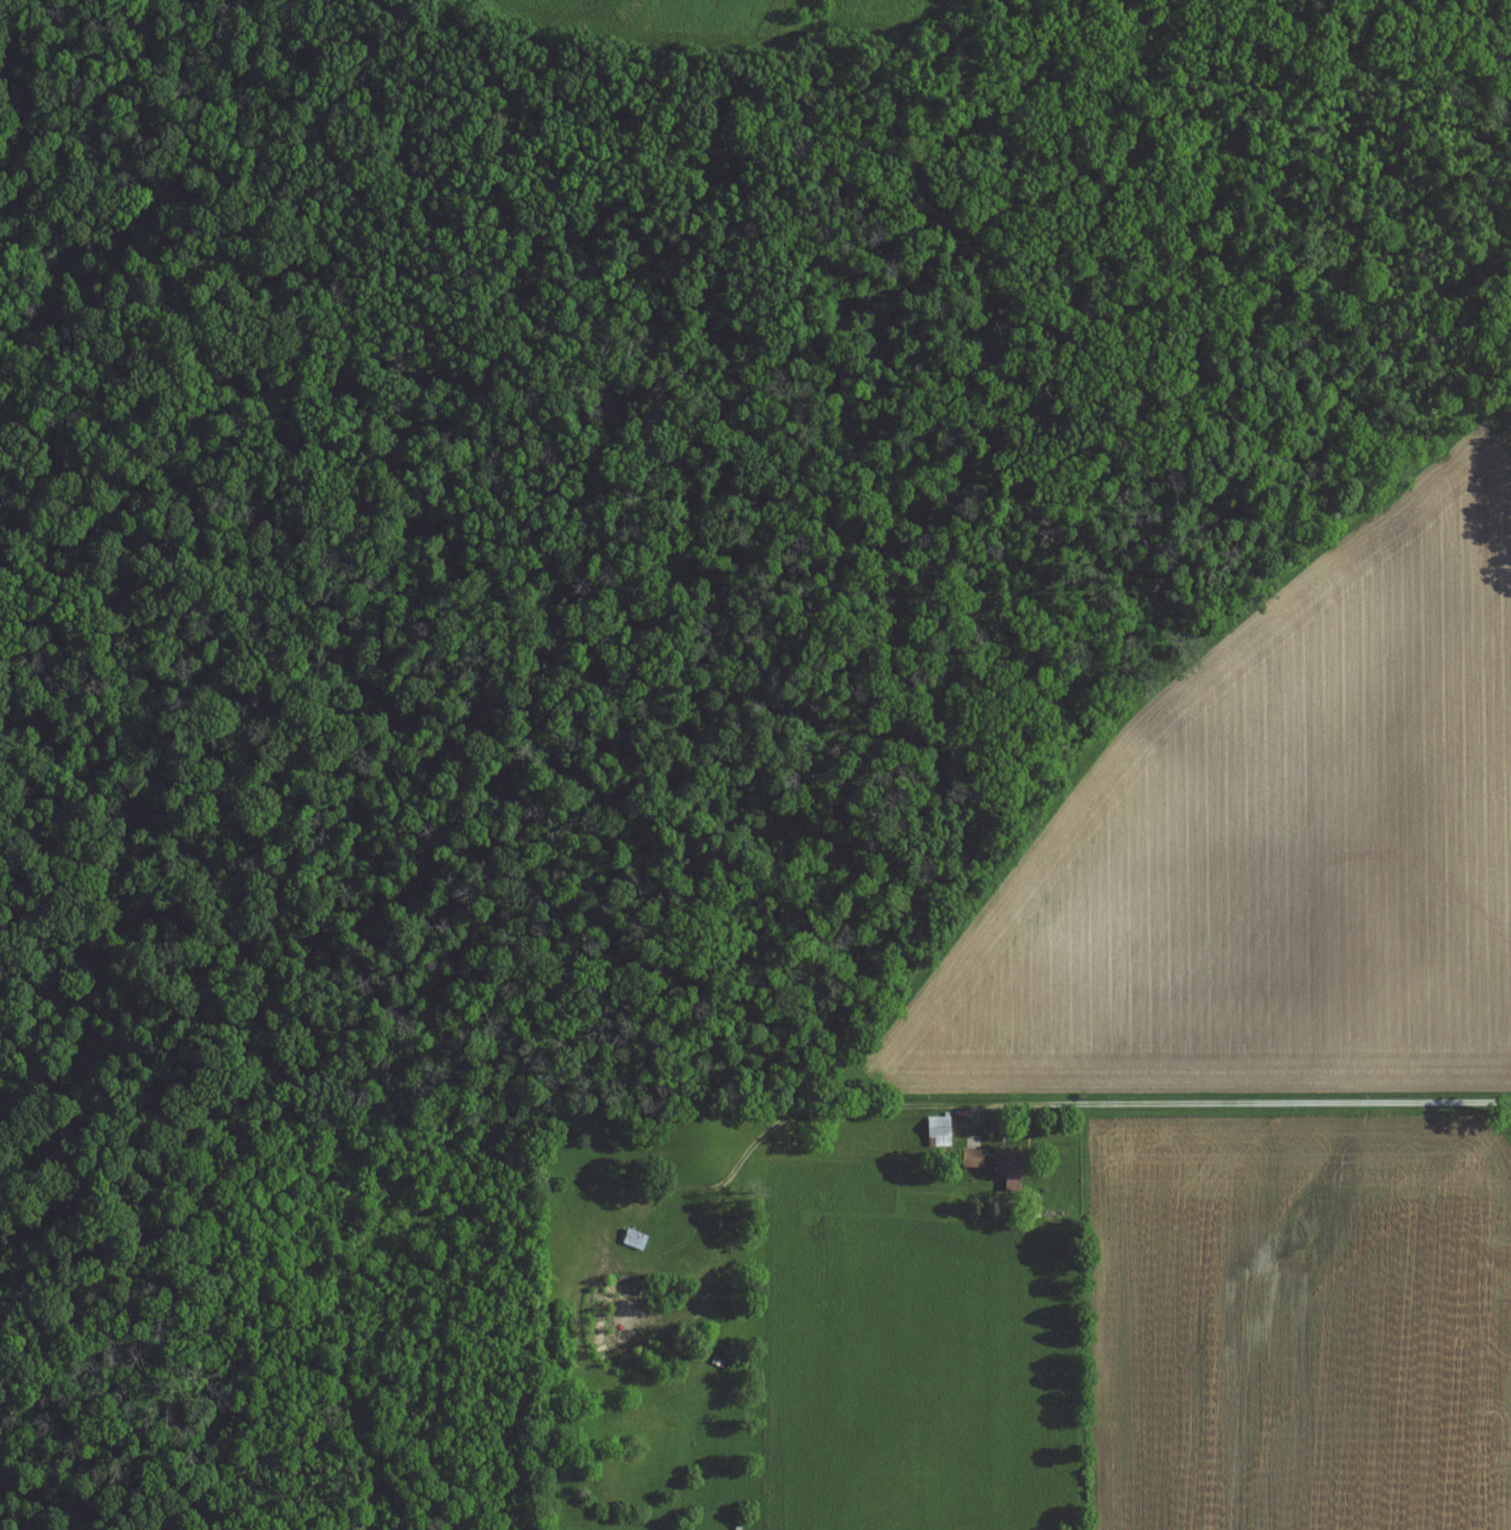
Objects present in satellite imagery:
road: (1085, 1103)
building: (943, 1129)
building: (1014, 1168)

